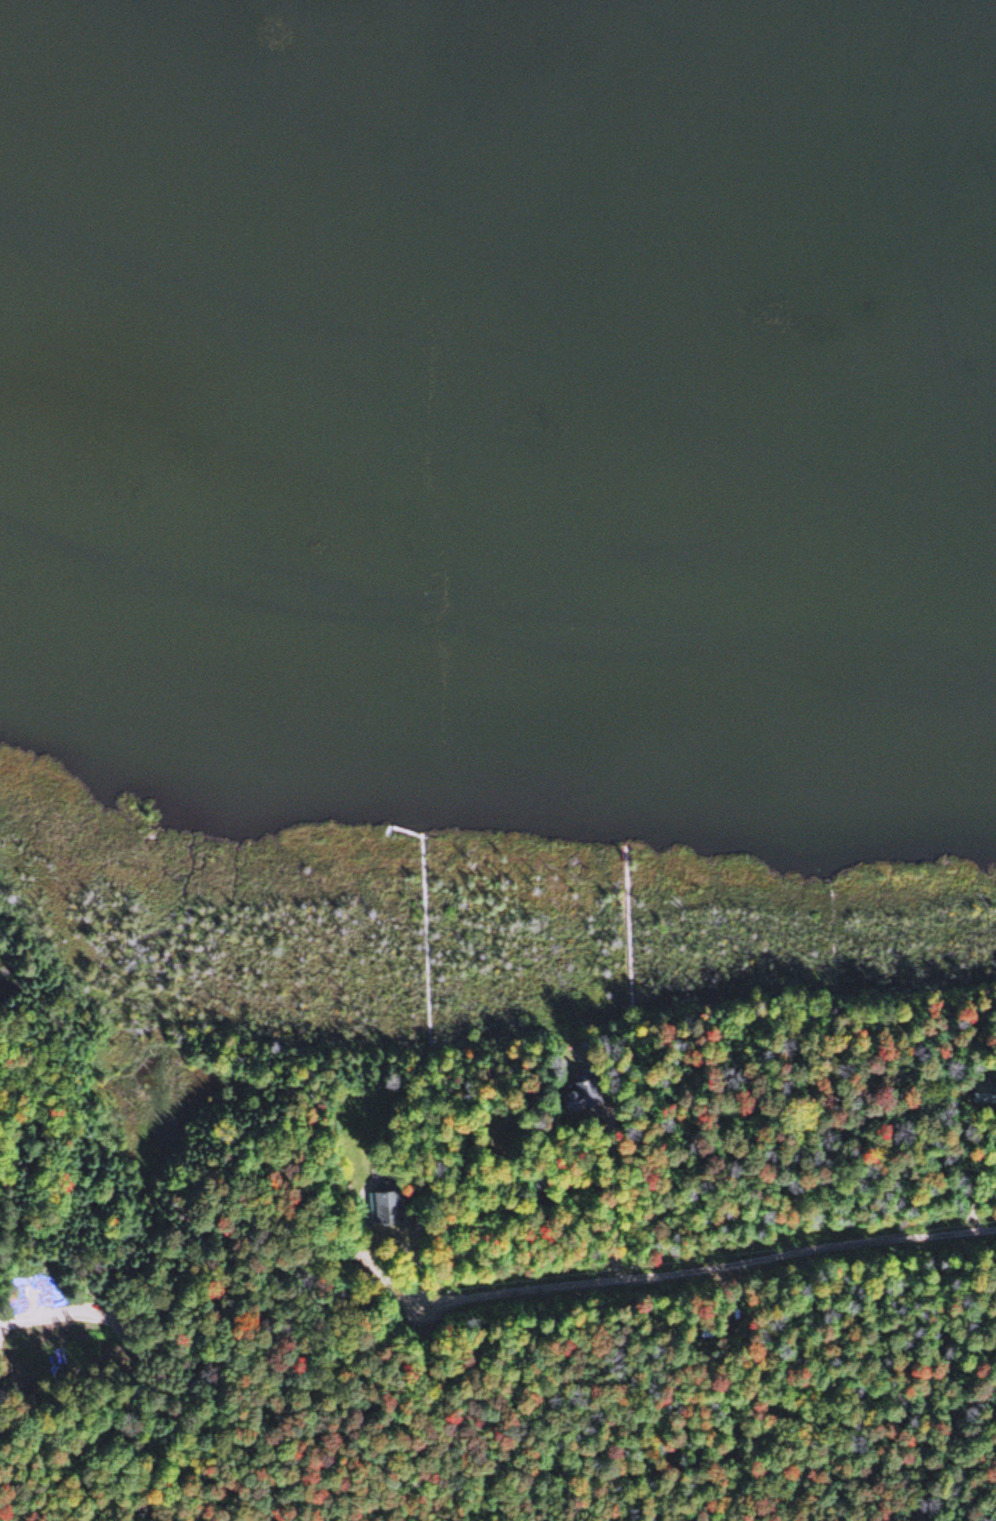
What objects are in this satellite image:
building: (981, 1091)
building: (578, 1095)
building: (381, 1202)
road: (499, 1293)

